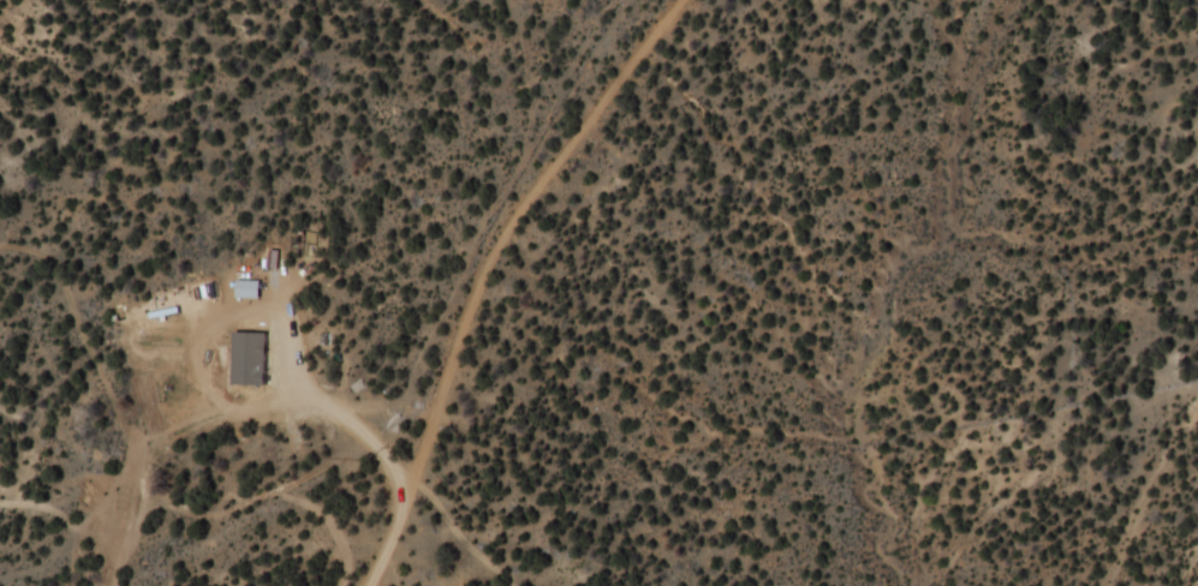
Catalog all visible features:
road: (488, 275)

